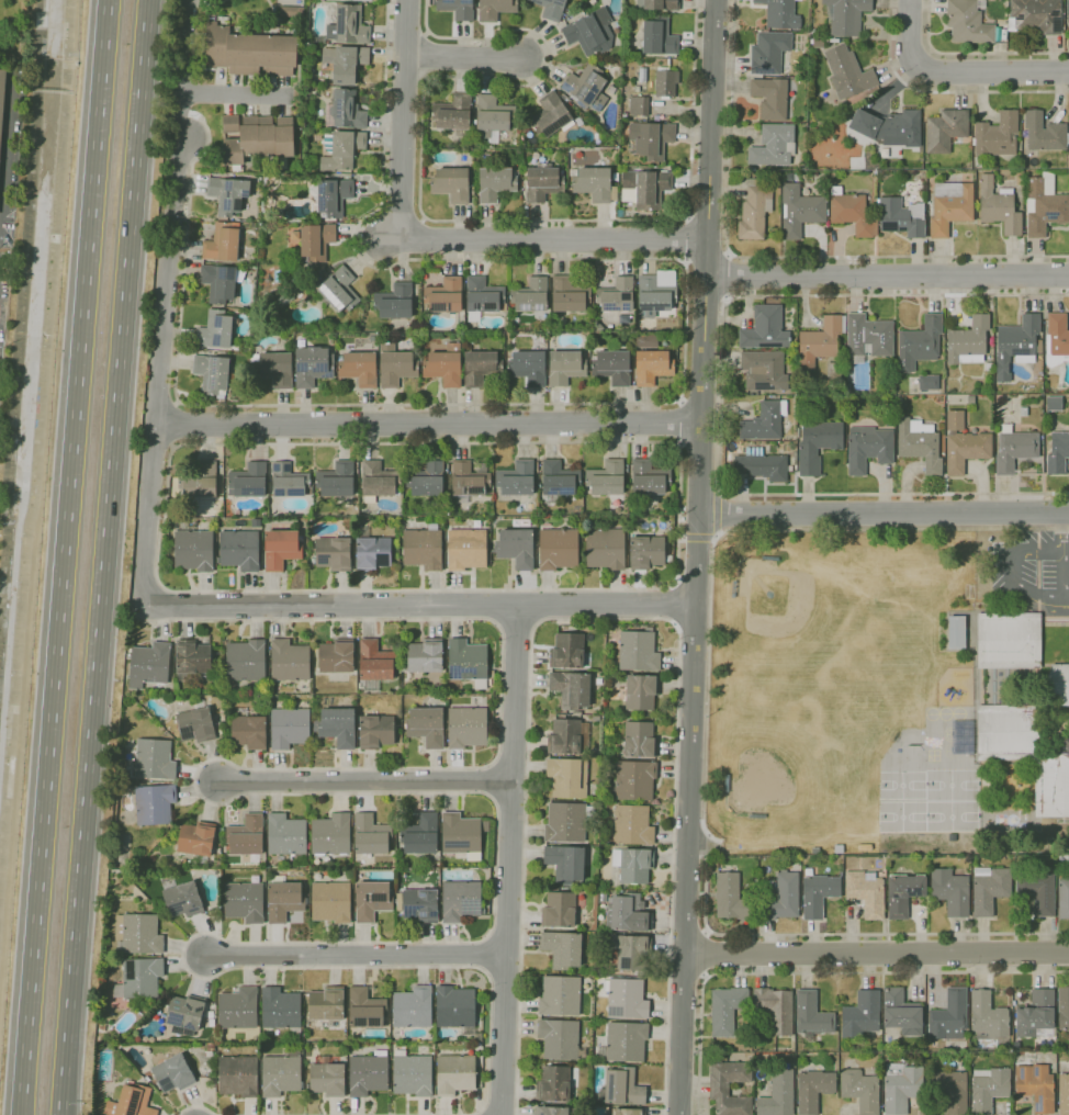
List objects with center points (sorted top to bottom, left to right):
building: (362, 0)
building: (657, 4)
building: (457, 8)
building: (496, 9)
building: (551, 9)
building: (1068, 10)
building: (780, 13)
building: (845, 15)
building: (1035, 16)
building: (969, 22)
building: (348, 25)
park: (16, 32)
building: (590, 32)
building: (813, 33)
building: (1003, 35)
building: (659, 37)
building: (815, 43)
building: (249, 52)
building: (769, 52)
road: (975, 53)
road: (192, 56)
road: (461, 56)
building: (344, 63)
building: (847, 72)
road: (958, 72)
building: (640, 74)
building: (665, 83)
building: (586, 87)
road: (942, 91)
road: (237, 95)
building: (2, 98)
building: (770, 99)
building: (638, 105)
building: (345, 110)
building: (454, 114)
building: (550, 114)
building: (493, 117)
road: (403, 120)
building: (230, 124)
building: (888, 127)
building: (946, 129)
building: (1044, 133)
building: (994, 138)
building: (259, 139)
building: (651, 139)
road: (4, 145)
building: (773, 146)
building: (341, 149)
building: (881, 176)
building: (451, 183)
building: (495, 183)
building: (543, 183)
building: (595, 183)
building: (643, 185)
building: (227, 194)
building: (331, 196)
building: (1044, 205)
building: (999, 206)
building: (949, 207)
building: (755, 210)
building: (800, 211)
building: (852, 213)
building: (902, 217)
road: (436, 219)
road: (684, 237)
building: (316, 240)
road: (554, 240)
building: (222, 243)
road: (772, 257)
road: (728, 274)
building: (312, 275)
road: (884, 277)
building: (220, 282)
building: (339, 290)
building: (569, 294)
building: (616, 294)
building: (445, 295)
building: (531, 295)
building: (653, 296)
building: (483, 297)
building: (284, 300)
building: (320, 300)
building: (395, 301)
building: (215, 329)
building: (765, 329)
building: (867, 337)
building: (1056, 339)
building: (646, 340)
building: (820, 341)
building: (968, 341)
building: (919, 345)
building: (1015, 345)
building: (1039, 347)
road: (159, 354)
building: (312, 365)
building: (445, 365)
building: (612, 365)
building: (395, 367)
building: (480, 367)
building: (528, 367)
building: (565, 367)
building: (653, 367)
building: (989, 367)
building: (272, 368)
building: (359, 368)
building: (764, 370)
building: (834, 370)
building: (212, 373)
building: (929, 382)
road: (722, 397)
building: (899, 399)
building: (970, 399)
road: (642, 403)
building: (1054, 403)
building: (1023, 410)
building: (955, 420)
building: (764, 421)
road: (679, 423)
road: (427, 424)
building: (818, 443)
building: (920, 443)
building: (868, 448)
building: (1014, 449)
building: (966, 450)
building: (1058, 453)
building: (795, 457)
building: (762, 464)
building: (606, 477)
building: (649, 477)
building: (516, 478)
building: (200, 480)
building: (248, 480)
building: (428, 480)
building: (290, 481)
building: (378, 481)
building: (468, 481)
building: (558, 481)
building: (337, 482)
road: (679, 506)
road: (882, 513)
road: (733, 529)
road: (697, 537)
building: (516, 547)
building: (192, 548)
building: (424, 548)
building: (559, 548)
building: (239, 549)
building: (280, 549)
building: (466, 549)
building: (605, 549)
building: (371, 551)
building: (646, 552)
building: (333, 554)
road: (1013, 554)
road: (103, 556)
road: (697, 556)
road: (64, 557)
parking lot: (1031, 571)
park: (902, 578)
road: (1062, 578)
road: (673, 602)
road: (419, 606)
road: (606, 619)
park: (797, 623)
road: (517, 630)
building: (956, 630)
building: (1009, 640)
building: (567, 651)
building: (639, 651)
building: (336, 656)
building: (425, 657)
building: (192, 658)
building: (289, 660)
building: (466, 660)
building: (246, 661)
building: (375, 661)
building: (149, 664)
building: (1057, 684)
building: (573, 686)
building: (638, 691)
park: (860, 705)
building: (195, 723)
building: (218, 723)
building: (426, 725)
building: (338, 727)
building: (466, 727)
building: (289, 728)
building: (221, 730)
building: (375, 731)
building: (249, 732)
building: (567, 736)
building: (640, 740)
building: (1025, 753)
building: (154, 759)
park: (781, 762)
building: (567, 777)
road: (365, 779)
building: (634, 779)
road: (434, 792)
building: (154, 803)
building: (566, 822)
building: (632, 824)
building: (420, 834)
building: (462, 834)
building: (331, 835)
building: (371, 835)
building: (246, 836)
building: (286, 836)
building: (196, 841)
building: (865, 847)
building: (815, 851)
road: (508, 859)
building: (565, 861)
building: (633, 864)
building: (989, 888)
building: (818, 891)
building: (950, 891)
building: (1038, 891)
building: (612, 892)
building: (866, 892)
building: (903, 893)
building: (783, 898)
building: (1064, 898)
building: (183, 899)
building: (283, 899)
building: (732, 899)
building: (372, 900)
building: (461, 900)
building: (330, 901)
building: (245, 902)
building: (420, 905)
building: (559, 910)
building: (627, 913)
building: (138, 934)
road: (852, 934)
building: (562, 948)
building: (632, 951)
road: (708, 954)
road: (357, 955)
road: (876, 955)
road: (818, 972)
building: (139, 978)
building: (560, 995)
building: (627, 999)
building: (327, 1003)
building: (238, 1007)
building: (280, 1007)
building: (365, 1007)
building: (413, 1007)
building: (1064, 1007)
building: (776, 1009)
building: (457, 1010)
building: (725, 1010)
building: (185, 1012)
building: (901, 1013)
building: (1036, 1013)
building: (211, 1014)
building: (988, 1014)
building: (811, 1015)
building: (860, 1015)
building: (948, 1016)
building: (211, 1023)
building: (101, 1027)
building: (560, 1038)
building: (624, 1043)
building: (1015, 1045)
building: (210, 1046)
building: (210, 1054)
building: (173, 1073)
building: (281, 1073)
building: (368, 1073)
building: (412, 1073)
building: (454, 1074)
building: (238, 1075)
building: (327, 1078)
building: (147, 1079)
building: (1034, 1082)
building: (553, 1083)
building: (621, 1088)
building: (901, 1088)
building: (719, 1089)
building: (949, 1089)
building: (989, 1089)
building: (813, 1090)
building: (860, 1090)
building: (1064, 1094)
building: (778, 1095)
building: (131, 1102)
road: (199, 1106)
building: (555, 1111)
building: (627, 1112)

